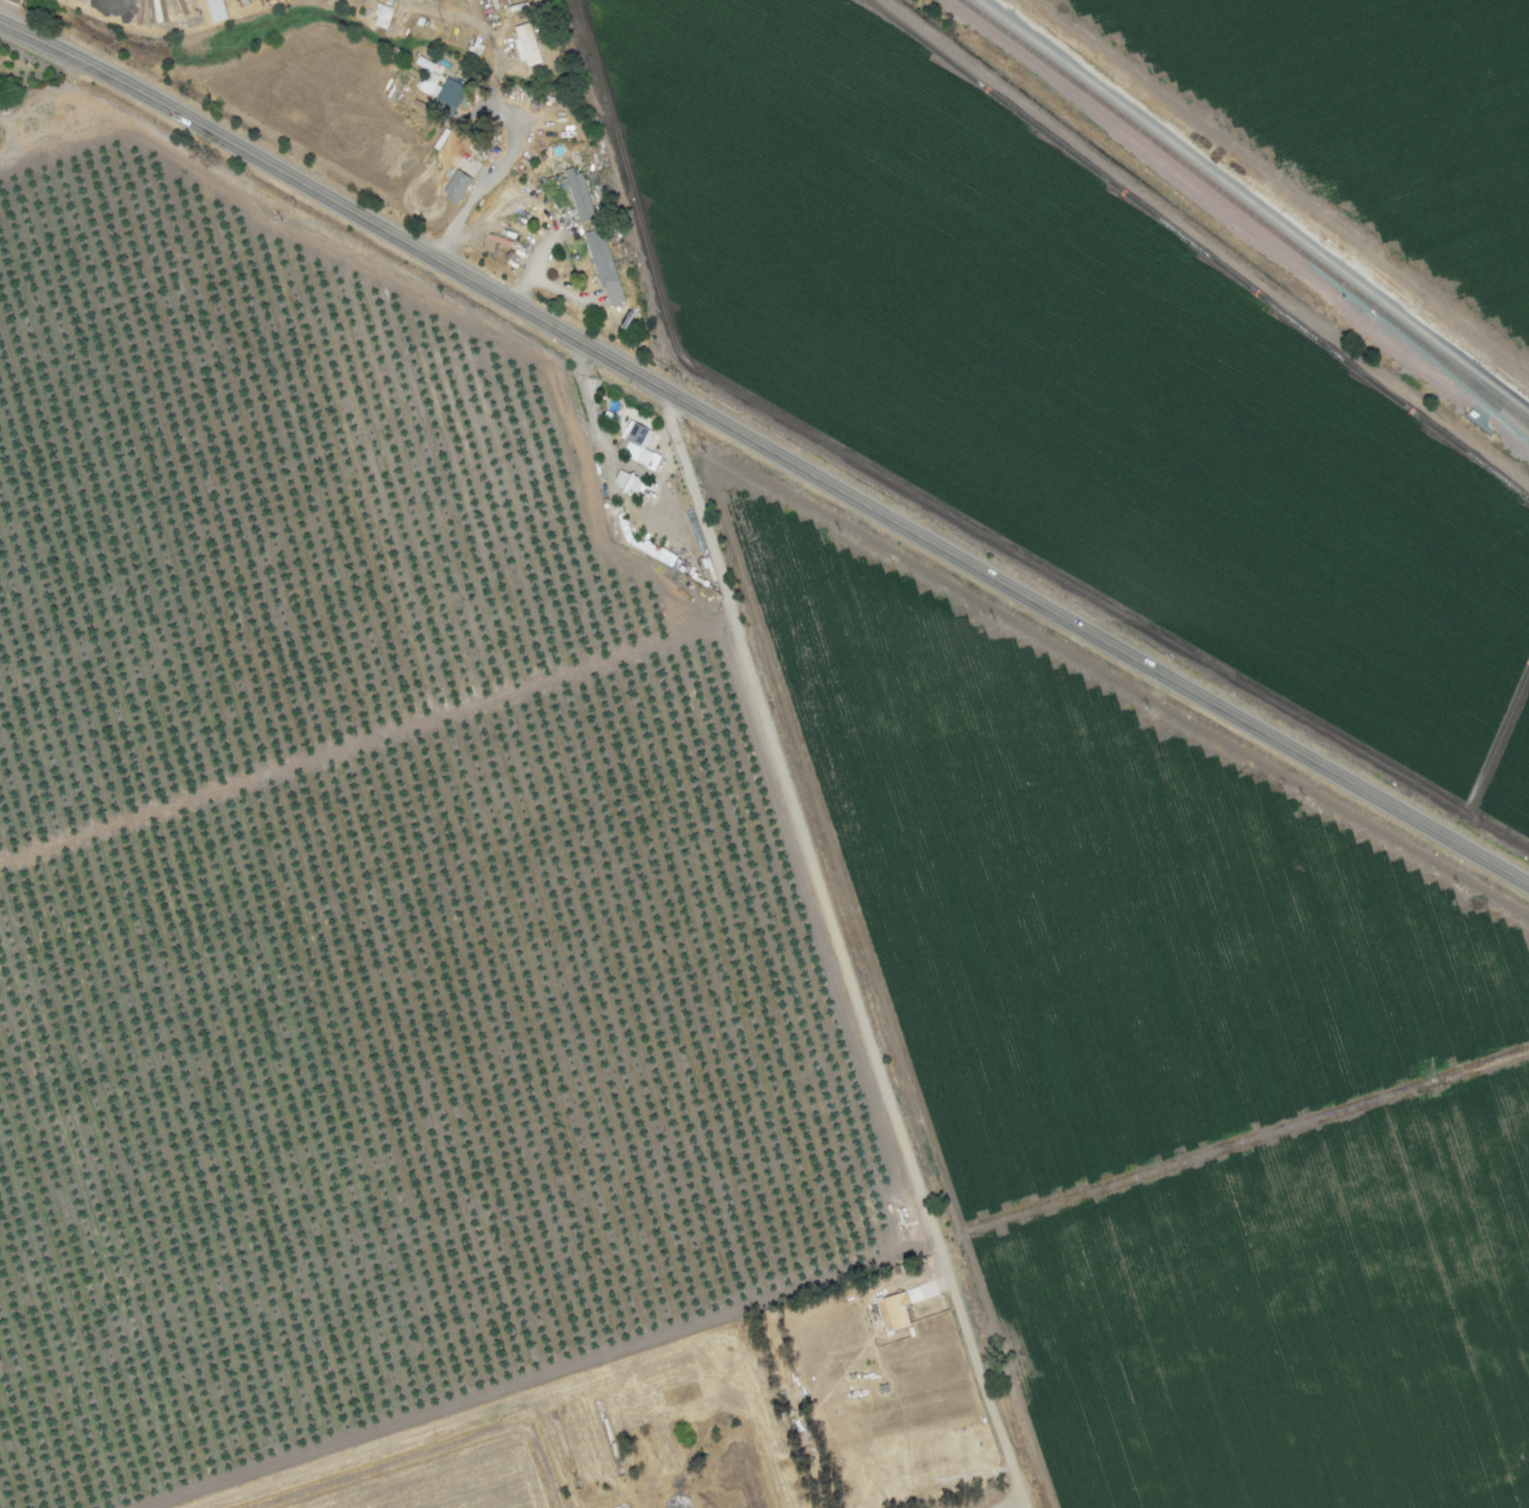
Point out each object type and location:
building: (216, 10)
building: (381, 15)
building: (529, 47)
building: (428, 65)
railway: (1184, 162)
building: (460, 187)
road: (484, 187)
building: (577, 194)
railway: (1245, 195)
road: (534, 264)
building: (602, 264)
road: (558, 290)
railway: (1466, 376)
railway: (1466, 382)
railway: (1519, 399)
railway: (1519, 400)
building: (637, 444)
road: (767, 449)
building: (627, 482)
building: (648, 549)
road: (832, 952)
building: (900, 1306)

